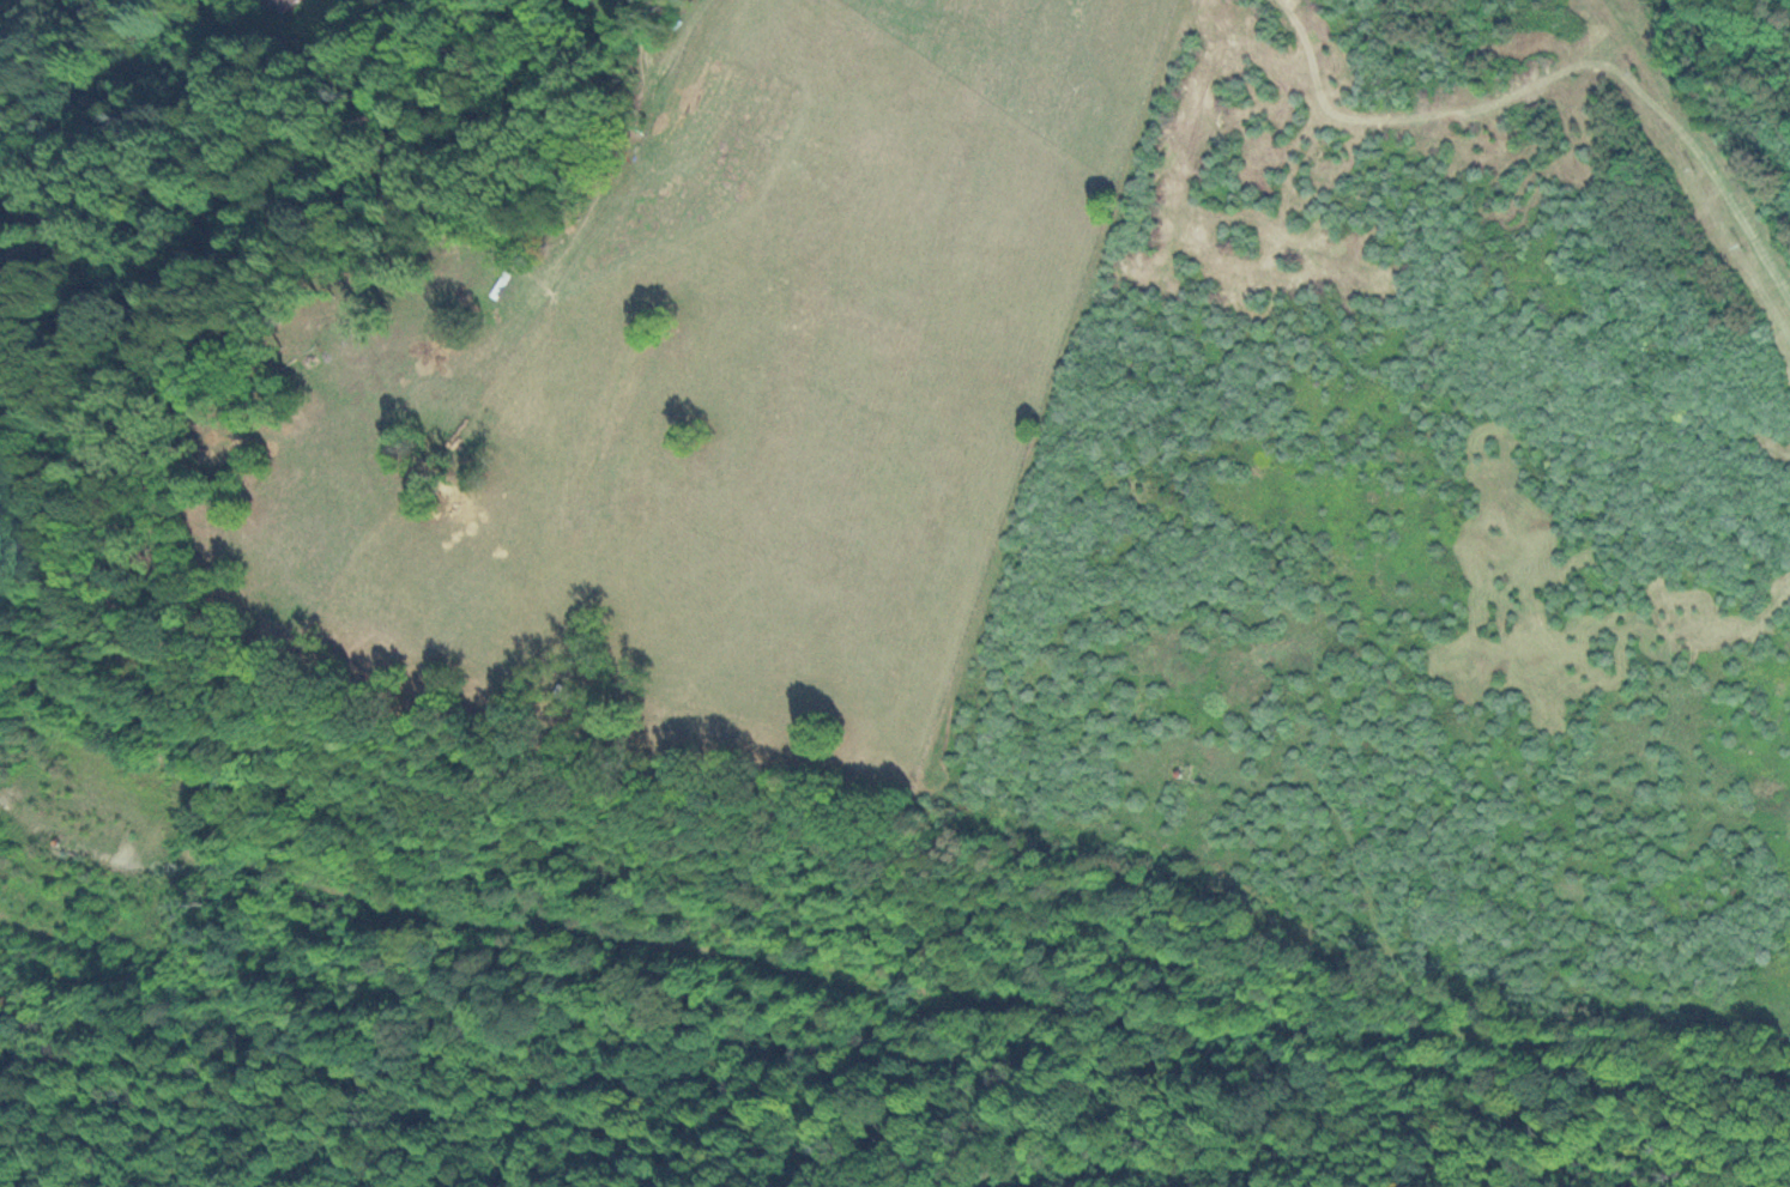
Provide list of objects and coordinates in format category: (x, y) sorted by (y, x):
road: (8, 5)
road: (183, 77)
road: (286, 852)

